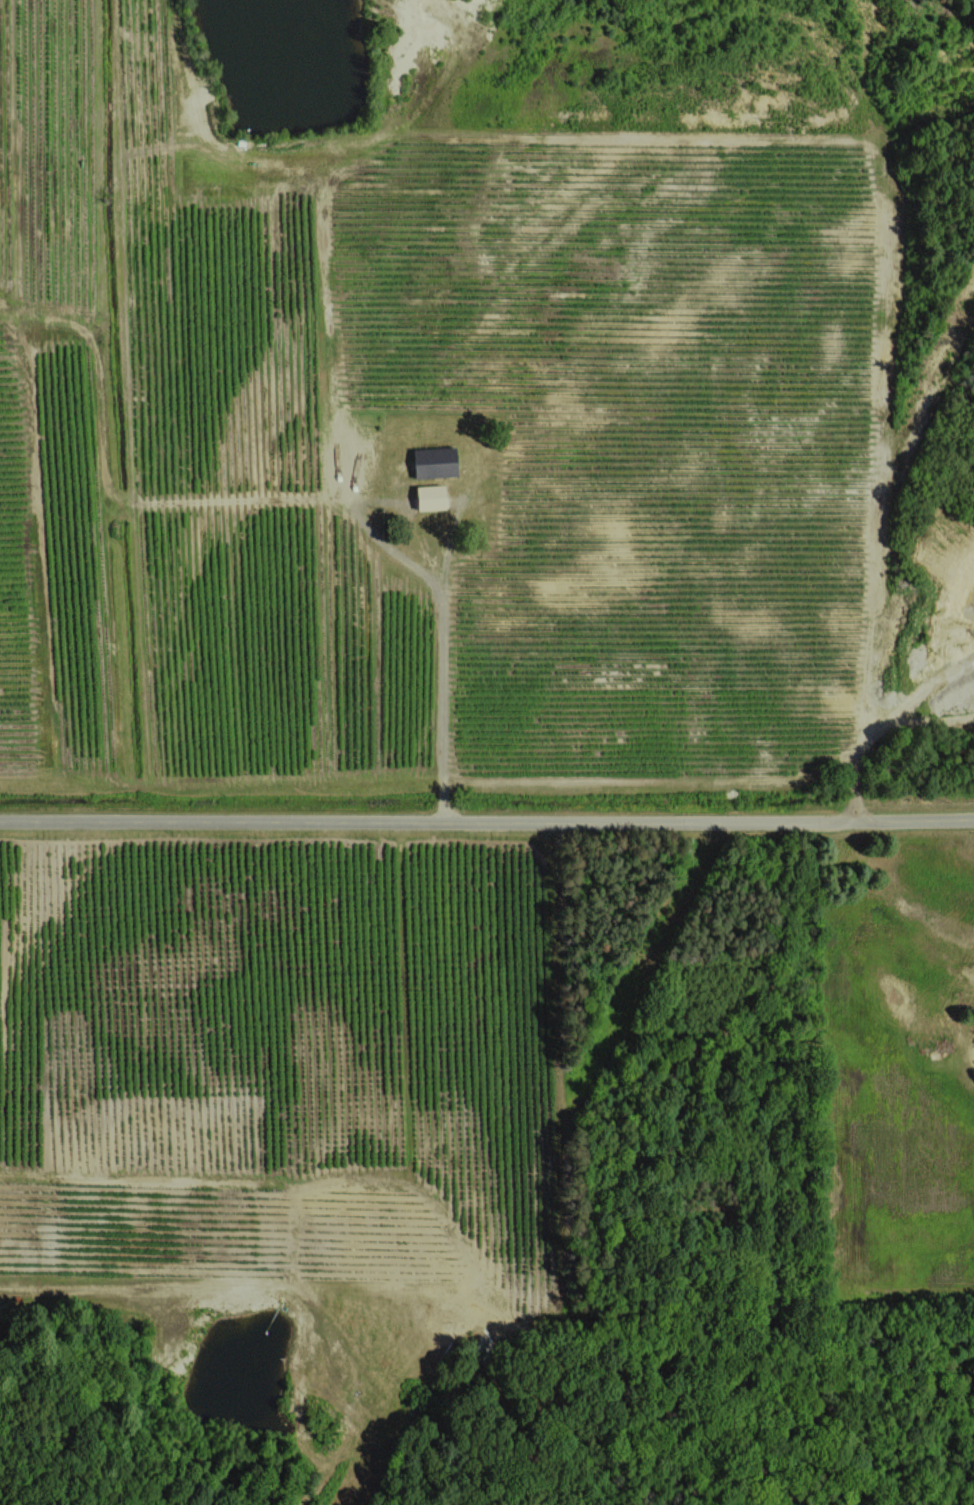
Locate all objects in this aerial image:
building: (434, 461)
building: (429, 496)
road: (442, 592)
road: (487, 821)
road: (143, 1292)

